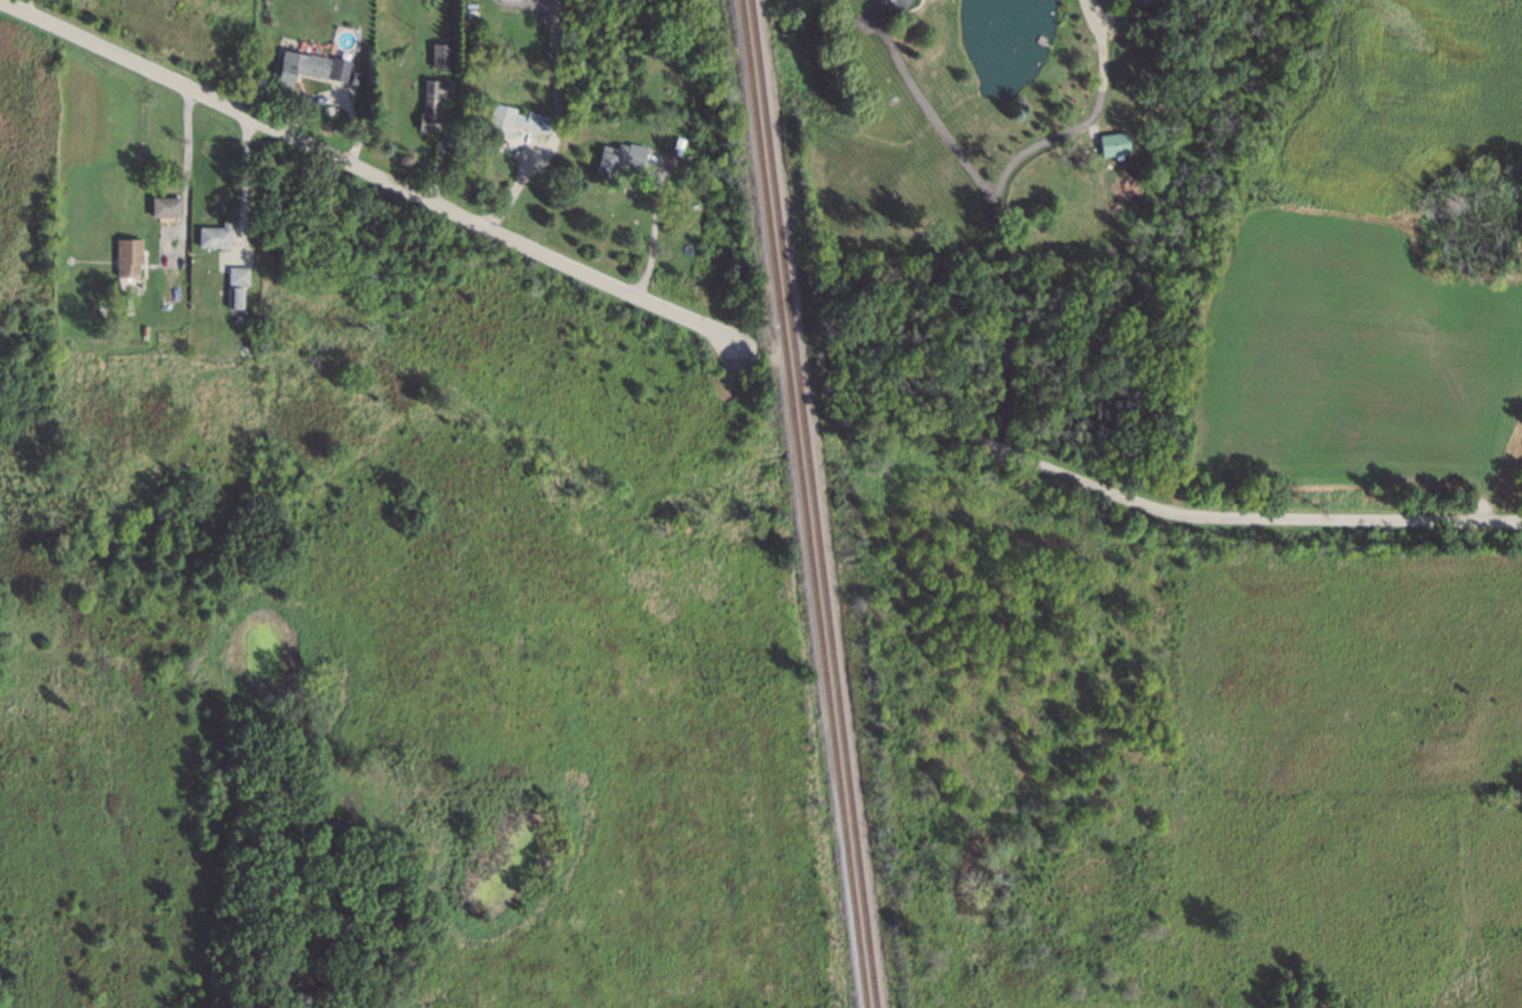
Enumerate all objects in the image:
building: (1143, 3)
building: (903, 4)
road: (28, 7)
building: (443, 55)
building: (312, 67)
building: (433, 103)
road: (934, 117)
building: (516, 120)
road: (557, 123)
building: (1116, 145)
building: (619, 158)
road: (187, 166)
road: (372, 172)
road: (245, 173)
building: (167, 207)
road: (994, 211)
road: (653, 231)
building: (216, 236)
building: (130, 257)
building: (239, 276)
building: (236, 297)
crop: (1519, 410)
railway: (814, 503)
railway: (803, 504)
road: (1220, 517)

